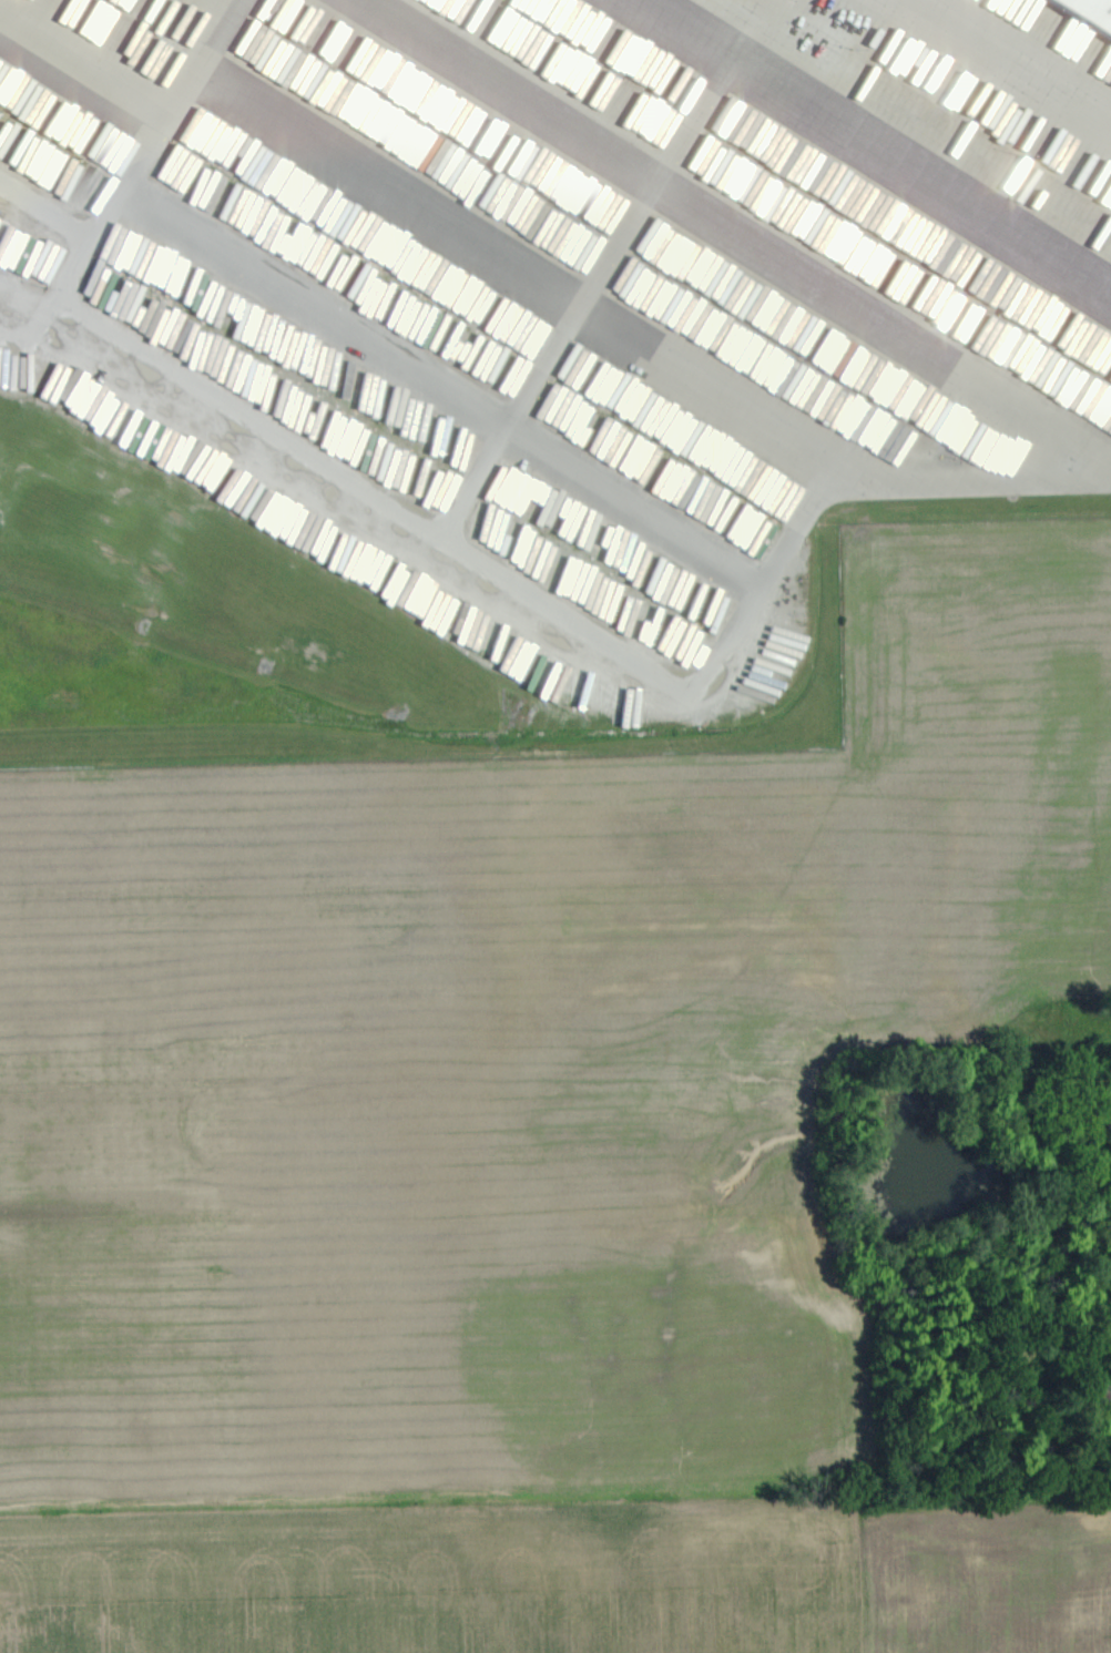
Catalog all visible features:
building: (1101, 6)

